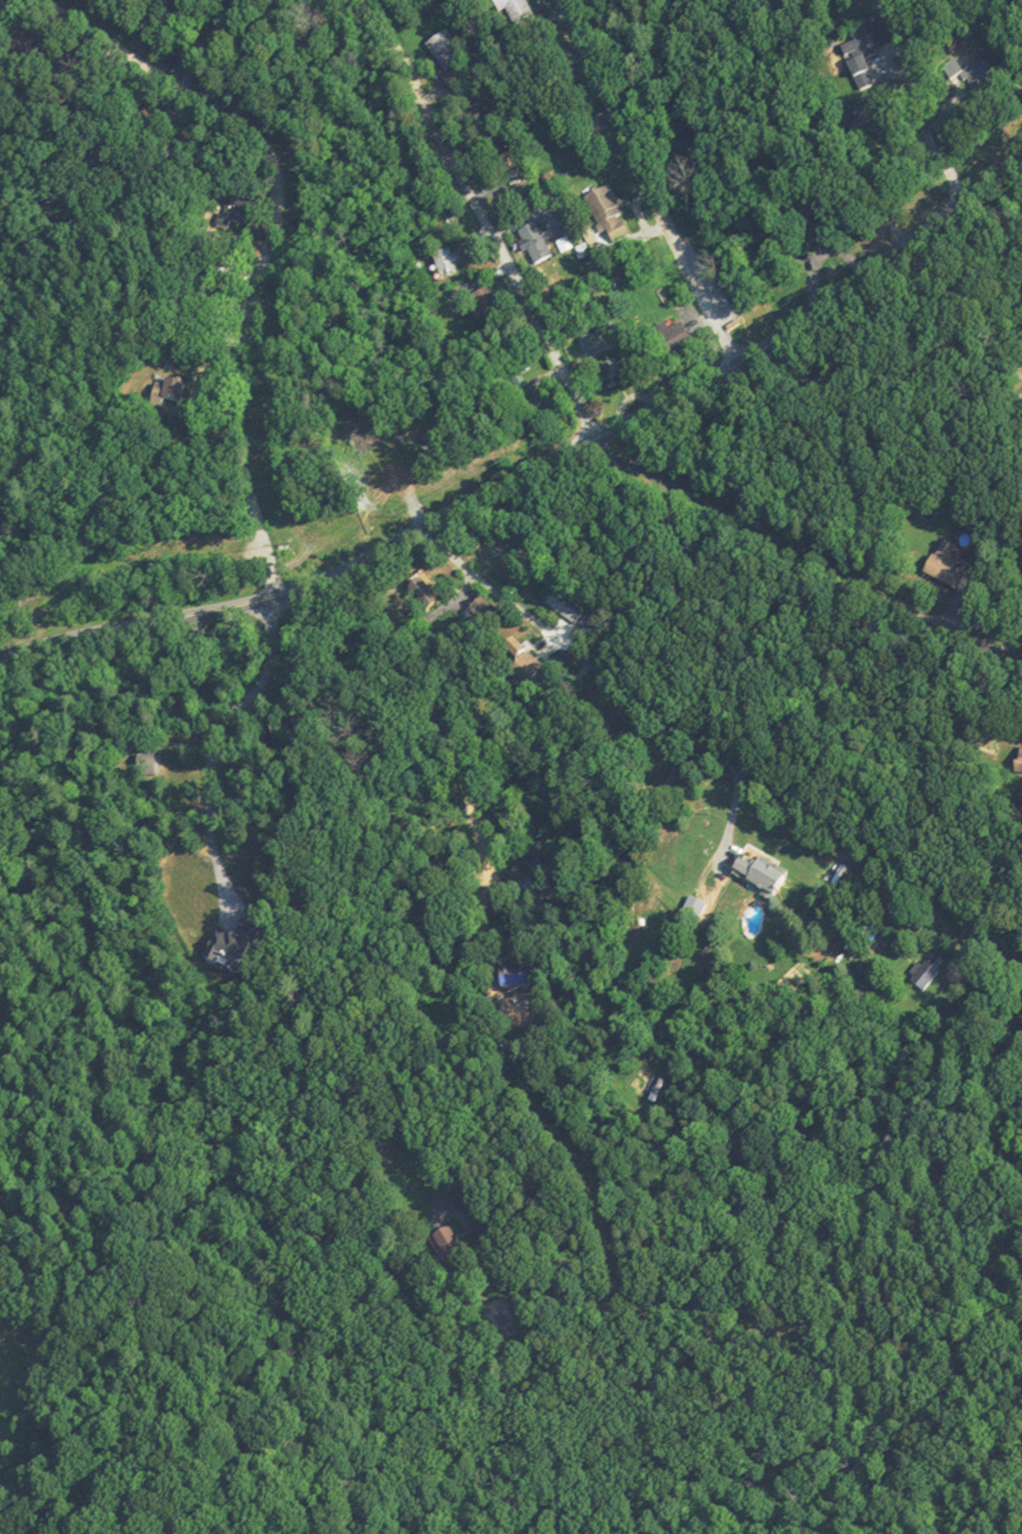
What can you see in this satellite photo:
building: (514, 10)
building: (446, 52)
building: (860, 52)
building: (453, 83)
road: (923, 100)
road: (644, 184)
road: (479, 213)
building: (604, 213)
road: (268, 241)
building: (534, 246)
road: (237, 253)
building: (444, 264)
building: (486, 307)
building: (673, 341)
road: (917, 355)
building: (615, 375)
building: (170, 394)
building: (539, 410)
road: (886, 422)
road: (538, 468)
road: (804, 555)
building: (948, 570)
building: (417, 595)
road: (442, 609)
building: (564, 609)
building: (522, 660)
road: (675, 725)
road: (213, 749)
road: (457, 751)
road: (798, 815)
building: (760, 874)
road: (942, 917)
building: (236, 942)
road: (299, 957)
building: (926, 970)
building: (513, 983)
building: (657, 1085)
building: (445, 1250)

